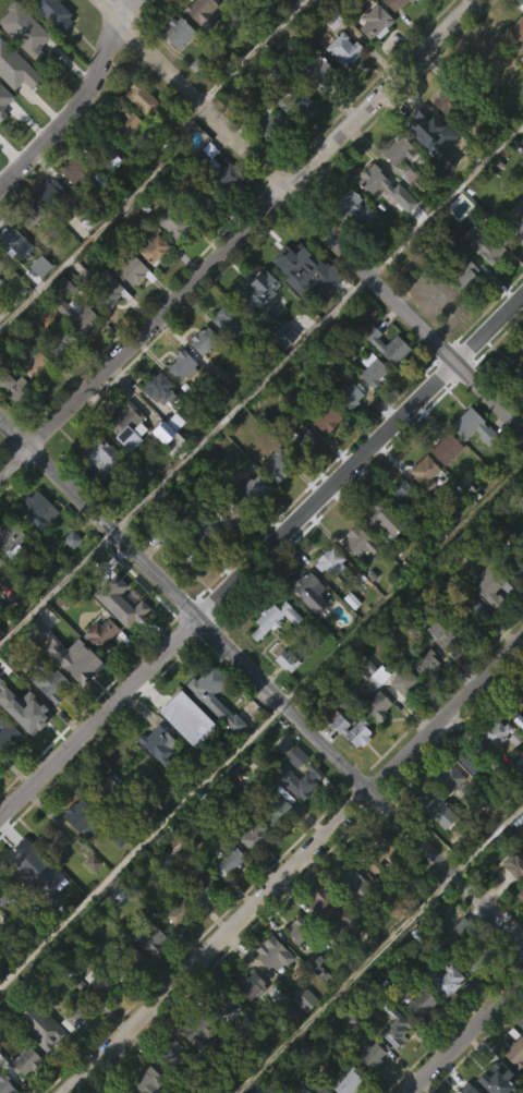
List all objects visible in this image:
building: (224, 0)
building: (411, 0)
building: (394, 3)
building: (256, 5)
building: (51, 13)
building: (202, 13)
building: (339, 14)
building: (224, 16)
building: (375, 22)
building: (271, 23)
building: (390, 24)
building: (177, 32)
building: (515, 32)
building: (49, 45)
building: (198, 45)
building: (343, 49)
road: (251, 50)
building: (373, 57)
building: (22, 64)
building: (515, 65)
building: (175, 66)
building: (277, 71)
building: (316, 72)
building: (341, 84)
building: (141, 98)
building: (293, 100)
road: (78, 102)
building: (13, 104)
building: (312, 106)
building: (445, 106)
building: (261, 119)
building: (125, 121)
building: (425, 129)
building: (3, 132)
building: (138, 134)
building: (292, 136)
building: (440, 136)
building: (1, 148)
building: (100, 148)
building: (397, 150)
building: (123, 156)
building: (264, 157)
building: (424, 163)
building: (217, 169)
building: (75, 170)
building: (378, 182)
building: (394, 185)
building: (49, 191)
building: (107, 193)
building: (199, 199)
road: (446, 199)
building: (350, 205)
building: (370, 212)
building: (27, 214)
road: (312, 216)
building: (515, 218)
building: (175, 220)
building: (47, 226)
building: (202, 233)
building: (7, 235)
road: (239, 238)
building: (344, 238)
building: (485, 243)
building: (154, 247)
building: (29, 251)
building: (289, 253)
building: (512, 254)
building: (170, 257)
building: (1, 264)
building: (317, 267)
building: (129, 269)
building: (463, 271)
building: (294, 278)
building: (483, 279)
building: (151, 284)
building: (255, 289)
building: (433, 290)
building: (106, 291)
building: (0, 302)
building: (300, 302)
building: (129, 304)
building: (460, 306)
building: (75, 314)
building: (228, 317)
building: (254, 323)
building: (106, 325)
building: (430, 327)
building: (56, 339)
building: (202, 339)
building: (387, 342)
building: (73, 349)
building: (226, 356)
building: (33, 362)
building: (182, 364)
building: (372, 369)
building: (280, 371)
building: (514, 374)
building: (200, 375)
building: (59, 377)
building: (384, 380)
building: (14, 386)
building: (522, 386)
building: (158, 388)
building: (29, 397)
building: (346, 397)
building: (180, 400)
building: (369, 404)
building: (217, 408)
building: (516, 408)
building: (11, 418)
building: (326, 418)
building: (156, 423)
building: (127, 425)
building: (473, 426)
building: (346, 430)
building: (300, 439)
building: (446, 447)
building: (324, 453)
building: (96, 456)
building: (172, 457)
building: (125, 460)
building: (470, 461)
building: (276, 464)
building: (425, 471)
building: (165, 472)
building: (302, 472)
building: (442, 483)
building: (253, 486)
building: (95, 490)
building: (401, 495)
building: (275, 499)
building: (421, 507)
building: (39, 510)
building: (231, 511)
building: (379, 518)
building: (253, 522)
building: (398, 529)
building: (205, 532)
building: (9, 536)
building: (355, 538)
building: (35, 544)
building: (226, 547)
road: (260, 554)
building: (184, 555)
building: (379, 556)
building: (329, 560)
building: (0, 561)
building: (513, 561)
building: (199, 564)
building: (69, 573)
building: (355, 575)
building: (489, 587)
building: (308, 591)
building: (182, 592)
building: (325, 597)
building: (129, 599)
building: (513, 600)
building: (464, 609)
building: (275, 618)
building: (486, 621)
building: (306, 626)
building: (99, 632)
building: (443, 633)
building: (470, 646)
building: (270, 653)
building: (82, 663)
building: (425, 663)
building: (98, 666)
building: (439, 666)
road: (261, 681)
building: (403, 681)
building: (49, 683)
building: (207, 687)
building: (283, 694)
building: (424, 699)
building: (519, 699)
building: (373, 706)
building: (20, 708)
building: (401, 716)
building: (47, 719)
building: (519, 719)
building: (349, 728)
building: (211, 732)
building: (500, 732)
building: (7, 736)
building: (374, 740)
building: (157, 742)
building: (518, 746)
building: (183, 752)
building: (471, 755)
building: (346, 763)
building: (494, 766)
building: (7, 770)
building: (511, 773)
building: (155, 779)
building: (296, 779)
building: (448, 779)
building: (474, 780)
building: (100, 785)
building: (518, 800)
building: (275, 807)
building: (434, 807)
building: (296, 814)
building: (84, 815)
building: (102, 817)
building: (254, 836)
road: (487, 836)
building: (271, 839)
building: (52, 841)
building: (433, 843)
building: (76, 853)
building: (374, 853)
building: (228, 860)
building: (25, 864)
road: (294, 866)
building: (512, 866)
building: (252, 871)
building: (51, 875)
building: (352, 885)
building: (204, 887)
building: (4, 890)
building: (376, 890)
building: (114, 895)
building: (228, 895)
building: (520, 895)
building: (88, 897)
building: (23, 898)
building: (332, 908)
building: (514, 908)
building: (178, 911)
building: (202, 921)
building: (296, 931)
building: (2, 932)
building: (146, 936)
building: (175, 945)
building: (329, 945)
building: (0, 950)
building: (272, 954)
building: (476, 956)
building: (457, 961)
building: (295, 962)
building: (123, 963)
building: (146, 971)
building: (99, 976)
building: (447, 979)
road: (343, 983)
building: (248, 986)
building: (269, 988)
building: (130, 991)
building: (474, 991)
building: (304, 997)
building: (220, 1001)
building: (421, 1005)
building: (282, 1008)
building: (76, 1013)
building: (441, 1013)
building: (98, 1017)
building: (246, 1018)
building: (38, 1025)
building: (392, 1025)
building: (197, 1030)
building: (300, 1031)
road: (466, 1035)
building: (221, 1037)
building: (418, 1039)
building: (72, 1049)
building: (515, 1049)
building: (173, 1054)
building: (370, 1056)
building: (391, 1060)
building: (23, 1061)
building: (194, 1064)
building: (223, 1068)
building: (495, 1078)
building: (146, 1080)
building: (343, 1081)
building: (513, 1083)
building: (5, 1084)
building: (169, 1084)
building: (372, 1084)
building: (308, 1085)
building: (25, 1088)
building: (265, 1089)
building: (465, 1089)
building: (122, 1092)

